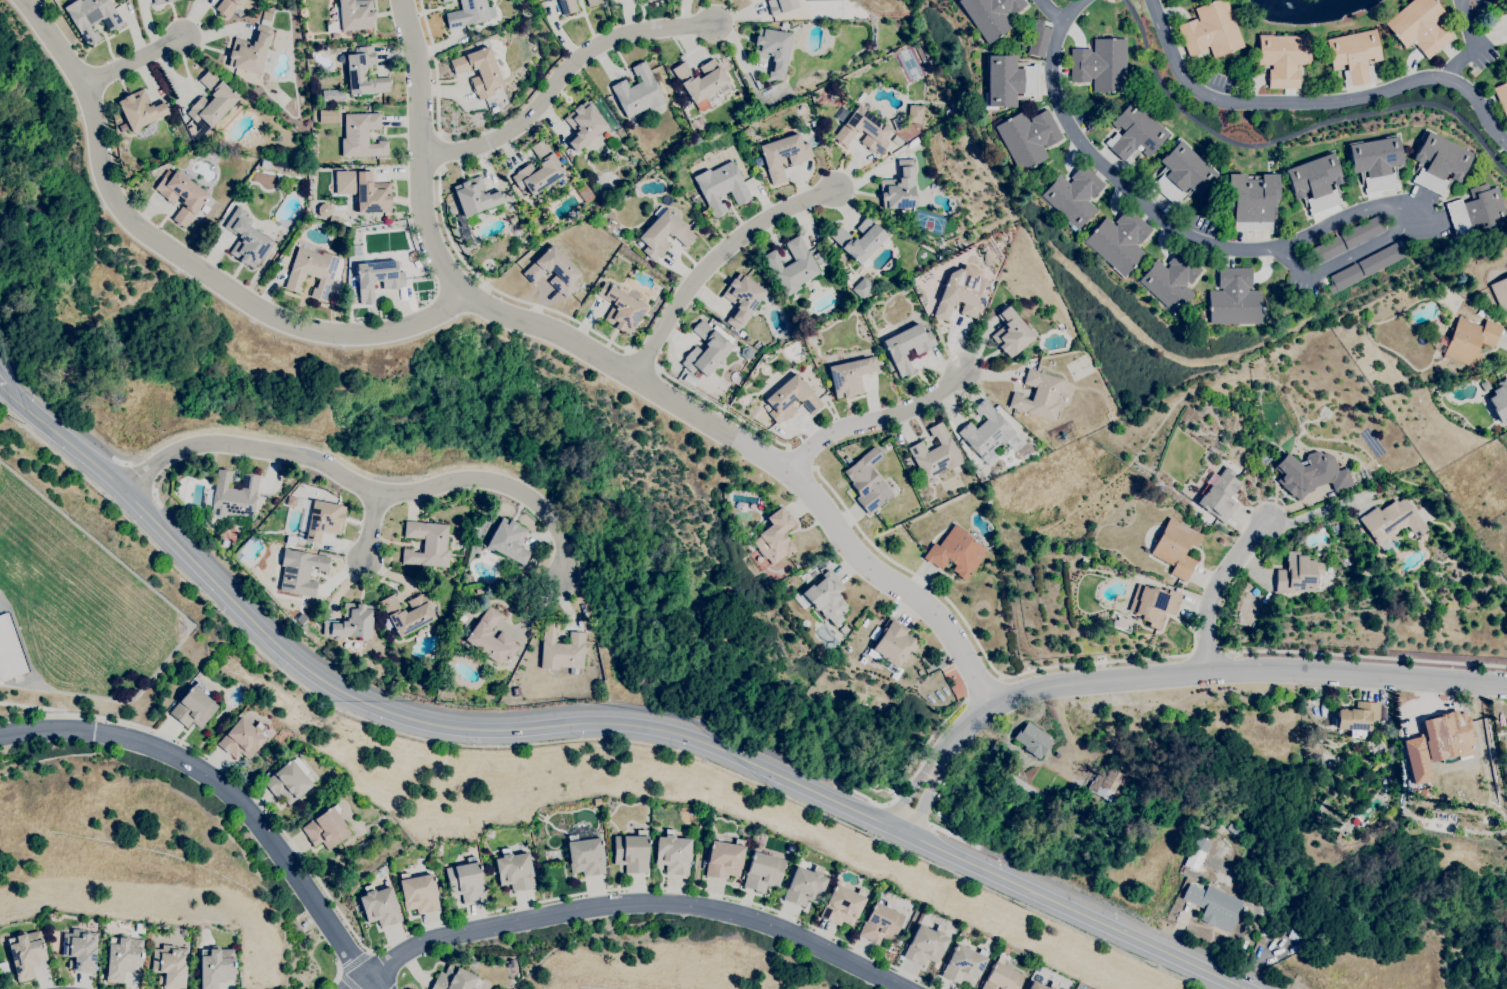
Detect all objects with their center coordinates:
building: (445, 0)
building: (160, 1)
building: (593, 2)
building: (1497, 2)
building: (567, 6)
building: (781, 6)
building: (226, 7)
road: (1049, 10)
road: (1069, 10)
building: (468, 13)
building: (850, 13)
building: (352, 15)
building: (990, 15)
building: (92, 17)
building: (784, 25)
building: (1419, 26)
building: (1210, 30)
building: (279, 36)
building: (1038, 38)
road: (1471, 41)
building: (772, 49)
building: (250, 51)
building: (1354, 55)
building: (1283, 59)
road: (137, 64)
building: (1100, 64)
road: (429, 65)
building: (479, 71)
building: (363, 72)
road: (562, 72)
building: (700, 79)
building: (1008, 81)
building: (759, 83)
building: (638, 92)
building: (860, 96)
building: (1501, 96)
road: (1313, 99)
building: (210, 104)
building: (495, 109)
building: (139, 110)
building: (914, 113)
building: (327, 116)
building: (813, 123)
building: (583, 124)
building: (1089, 124)
building: (862, 128)
building: (748, 131)
building: (606, 133)
building: (1135, 133)
building: (362, 135)
building: (1027, 137)
building: (278, 138)
building: (897, 140)
building: (611, 143)
road: (434, 152)
building: (569, 155)
building: (783, 155)
building: (1375, 161)
building: (1439, 161)
building: (264, 164)
building: (539, 169)
building: (1182, 173)
building: (277, 174)
road: (1122, 176)
building: (1315, 181)
building: (721, 186)
building: (900, 187)
building: (363, 190)
building: (584, 193)
building: (181, 195)
building: (1073, 196)
building: (473, 199)
building: (1252, 200)
building: (204, 208)
building: (632, 208)
building: (1477, 211)
building: (698, 218)
building: (513, 220)
road: (1406, 225)
building: (1361, 232)
building: (663, 234)
building: (467, 237)
building: (246, 238)
building: (1118, 240)
building: (860, 241)
building: (275, 247)
building: (1328, 249)
building: (821, 257)
building: (1380, 259)
road: (712, 260)
road: (182, 261)
building: (792, 268)
building: (553, 270)
building: (311, 271)
building: (377, 278)
building: (1344, 278)
building: (1170, 281)
building: (862, 287)
road: (491, 290)
building: (654, 291)
building: (1500, 293)
building: (1486, 296)
building: (741, 298)
building: (959, 298)
building: (1234, 298)
building: (620, 308)
building: (1480, 313)
building: (741, 333)
building: (1011, 333)
building: (746, 338)
building: (812, 340)
building: (1469, 340)
building: (907, 346)
building: (706, 349)
road: (638, 359)
road: (628, 372)
building: (850, 375)
building: (689, 380)
road: (1, 382)
building: (1485, 386)
building: (714, 392)
building: (1038, 395)
building: (791, 398)
building: (1499, 400)
building: (766, 407)
road: (723, 408)
building: (997, 408)
road: (59, 414)
road: (878, 418)
building: (986, 430)
building: (887, 445)
building: (935, 452)
road: (799, 456)
building: (848, 460)
building: (205, 473)
building: (1309, 473)
road: (141, 476)
building: (867, 481)
building: (932, 482)
building: (1219, 494)
road: (368, 495)
building: (231, 498)
road: (1320, 510)
building: (317, 518)
building: (1201, 518)
building: (1391, 520)
road: (374, 532)
building: (1357, 532)
building: (775, 537)
building: (508, 540)
building: (225, 543)
building: (427, 544)
building: (243, 546)
building: (1176, 547)
building: (956, 552)
building: (1083, 561)
building: (529, 569)
building: (300, 571)
building: (1365, 572)
building: (1297, 573)
road: (1217, 585)
building: (478, 590)
building: (826, 597)
building: (1153, 604)
building: (407, 613)
building: (351, 622)
building: (1119, 623)
building: (298, 624)
building: (469, 624)
building: (844, 629)
building: (419, 633)
building: (490, 638)
road: (977, 642)
building: (894, 643)
building: (354, 645)
building: (561, 649)
building: (9, 650)
road: (1207, 652)
road: (1365, 656)
building: (862, 660)
road: (1167, 675)
road: (982, 687)
road: (552, 706)
building: (193, 707)
building: (1357, 715)
road: (588, 727)
building: (242, 738)
building: (1032, 740)
building: (1437, 743)
building: (1305, 755)
building: (289, 782)
building: (1108, 783)
road: (230, 791)
road: (906, 809)
building: (326, 828)
building: (631, 852)
building: (673, 853)
building: (585, 855)
building: (724, 859)
building: (1194, 859)
building: (514, 870)
building: (763, 871)
building: (465, 880)
building: (804, 886)
building: (418, 892)
road: (634, 903)
building: (842, 905)
building: (379, 906)
road: (1105, 906)
building: (1211, 907)
building: (881, 922)
building: (304, 924)
road: (426, 924)
building: (139, 928)
building: (158, 931)
building: (1294, 934)
building: (925, 944)
building: (80, 949)
building: (26, 954)
building: (123, 955)
road: (351, 961)
building: (170, 965)
building: (964, 965)
building: (216, 966)
road: (336, 970)
building: (1002, 977)
building: (454, 979)
road: (344, 981)
road: (354, 981)
building: (1033, 982)

